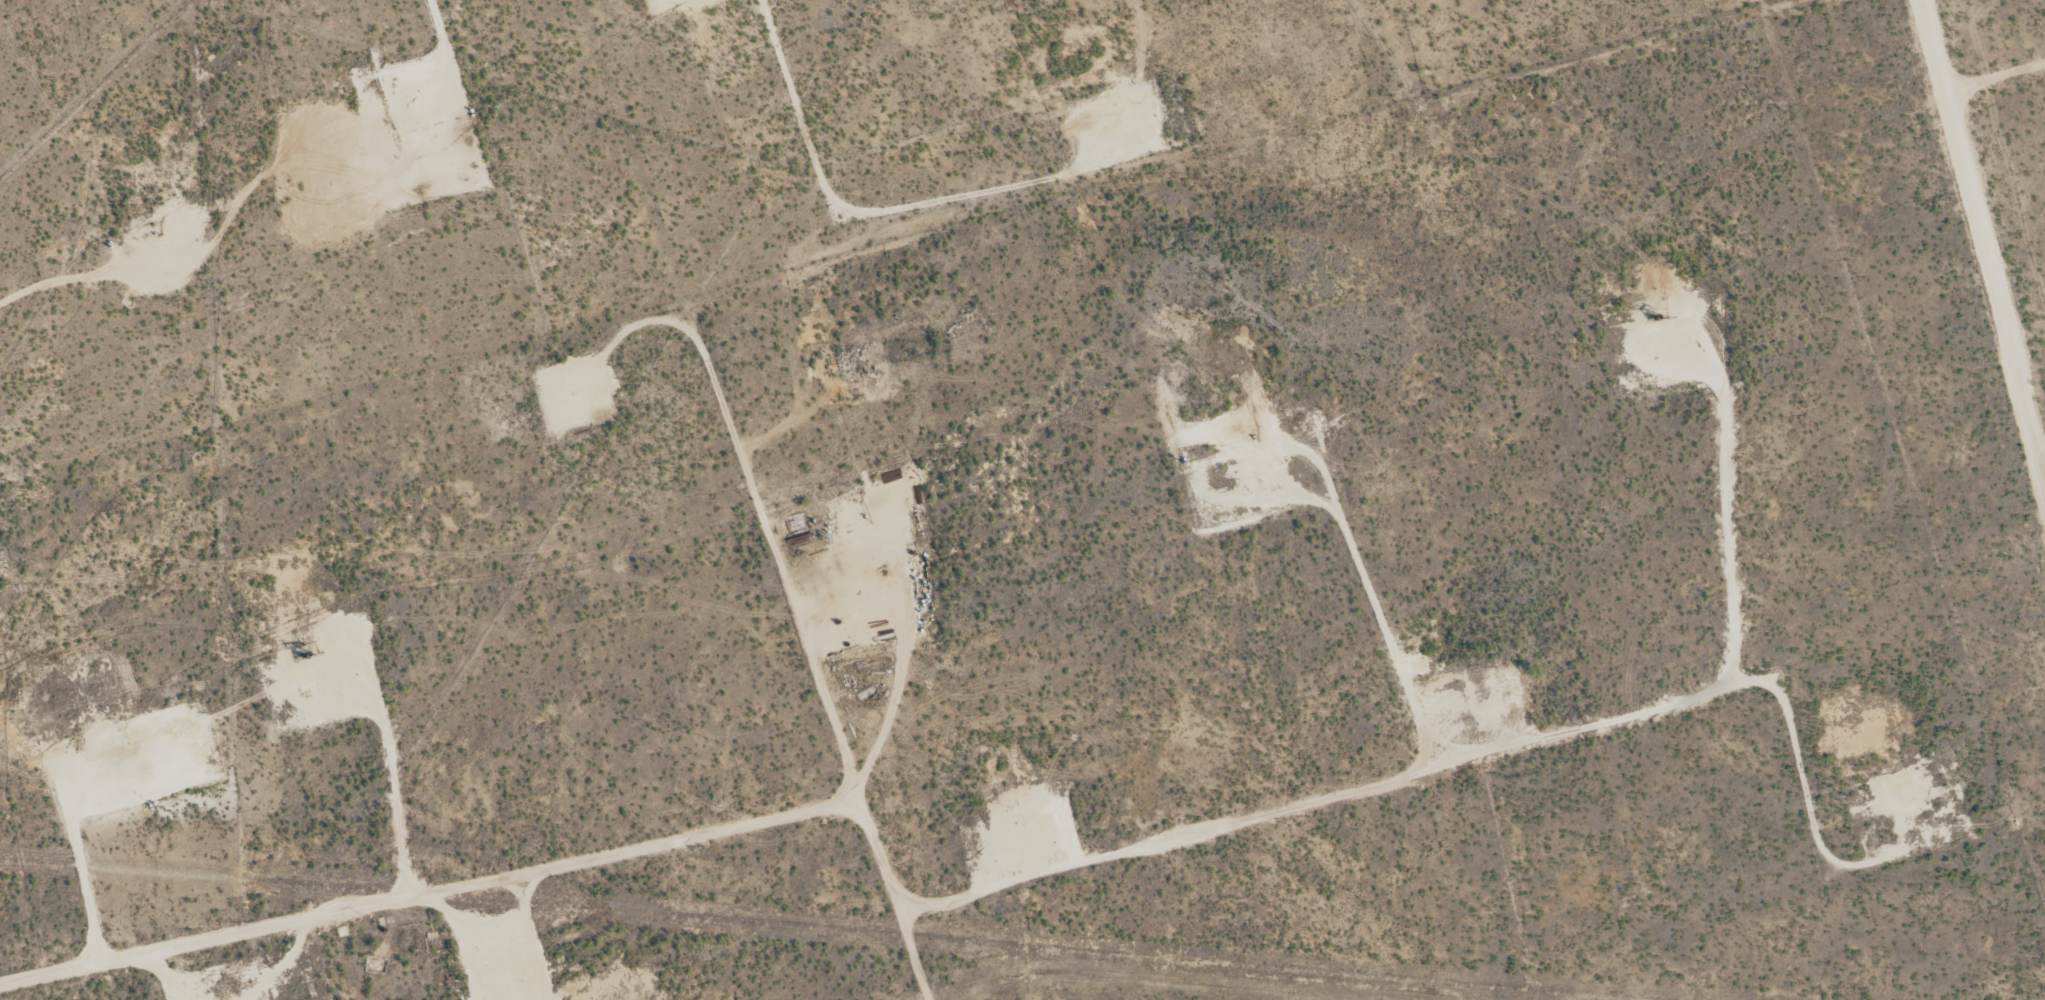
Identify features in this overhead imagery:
road: (1852, 500)
road: (439, 890)

